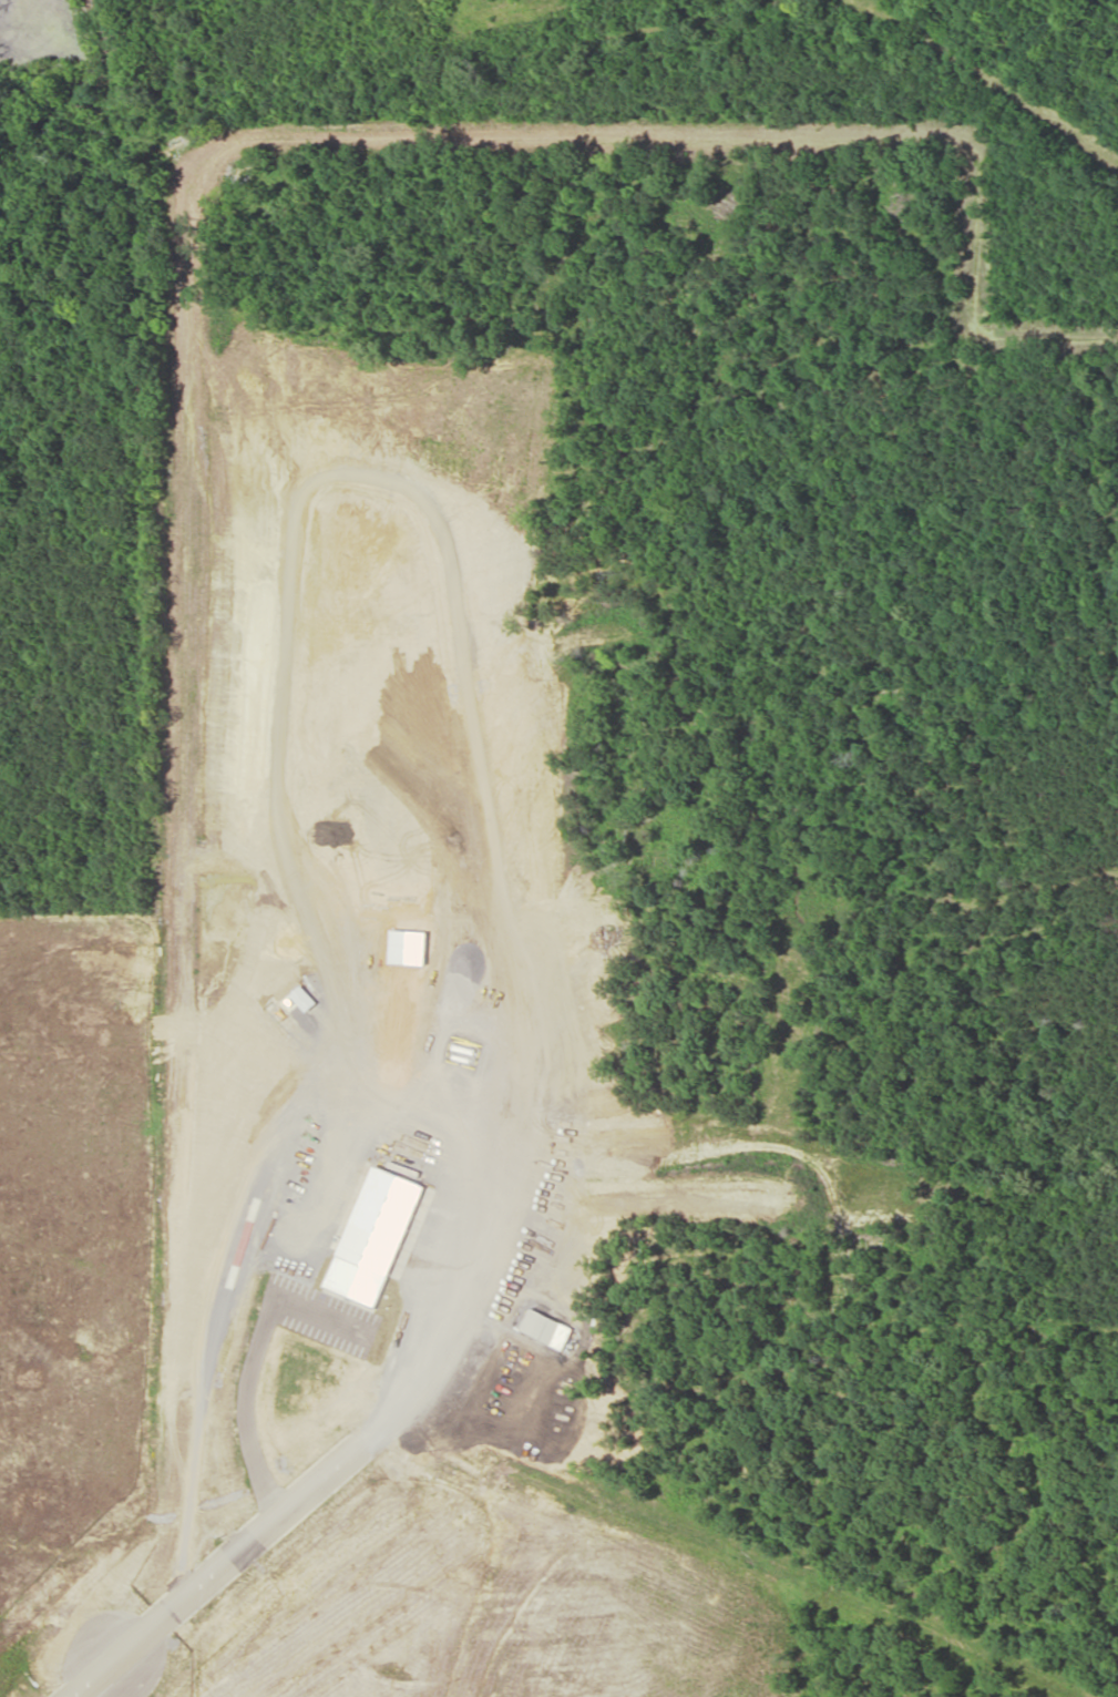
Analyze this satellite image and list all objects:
building: (375, 1234)
road: (220, 1566)

